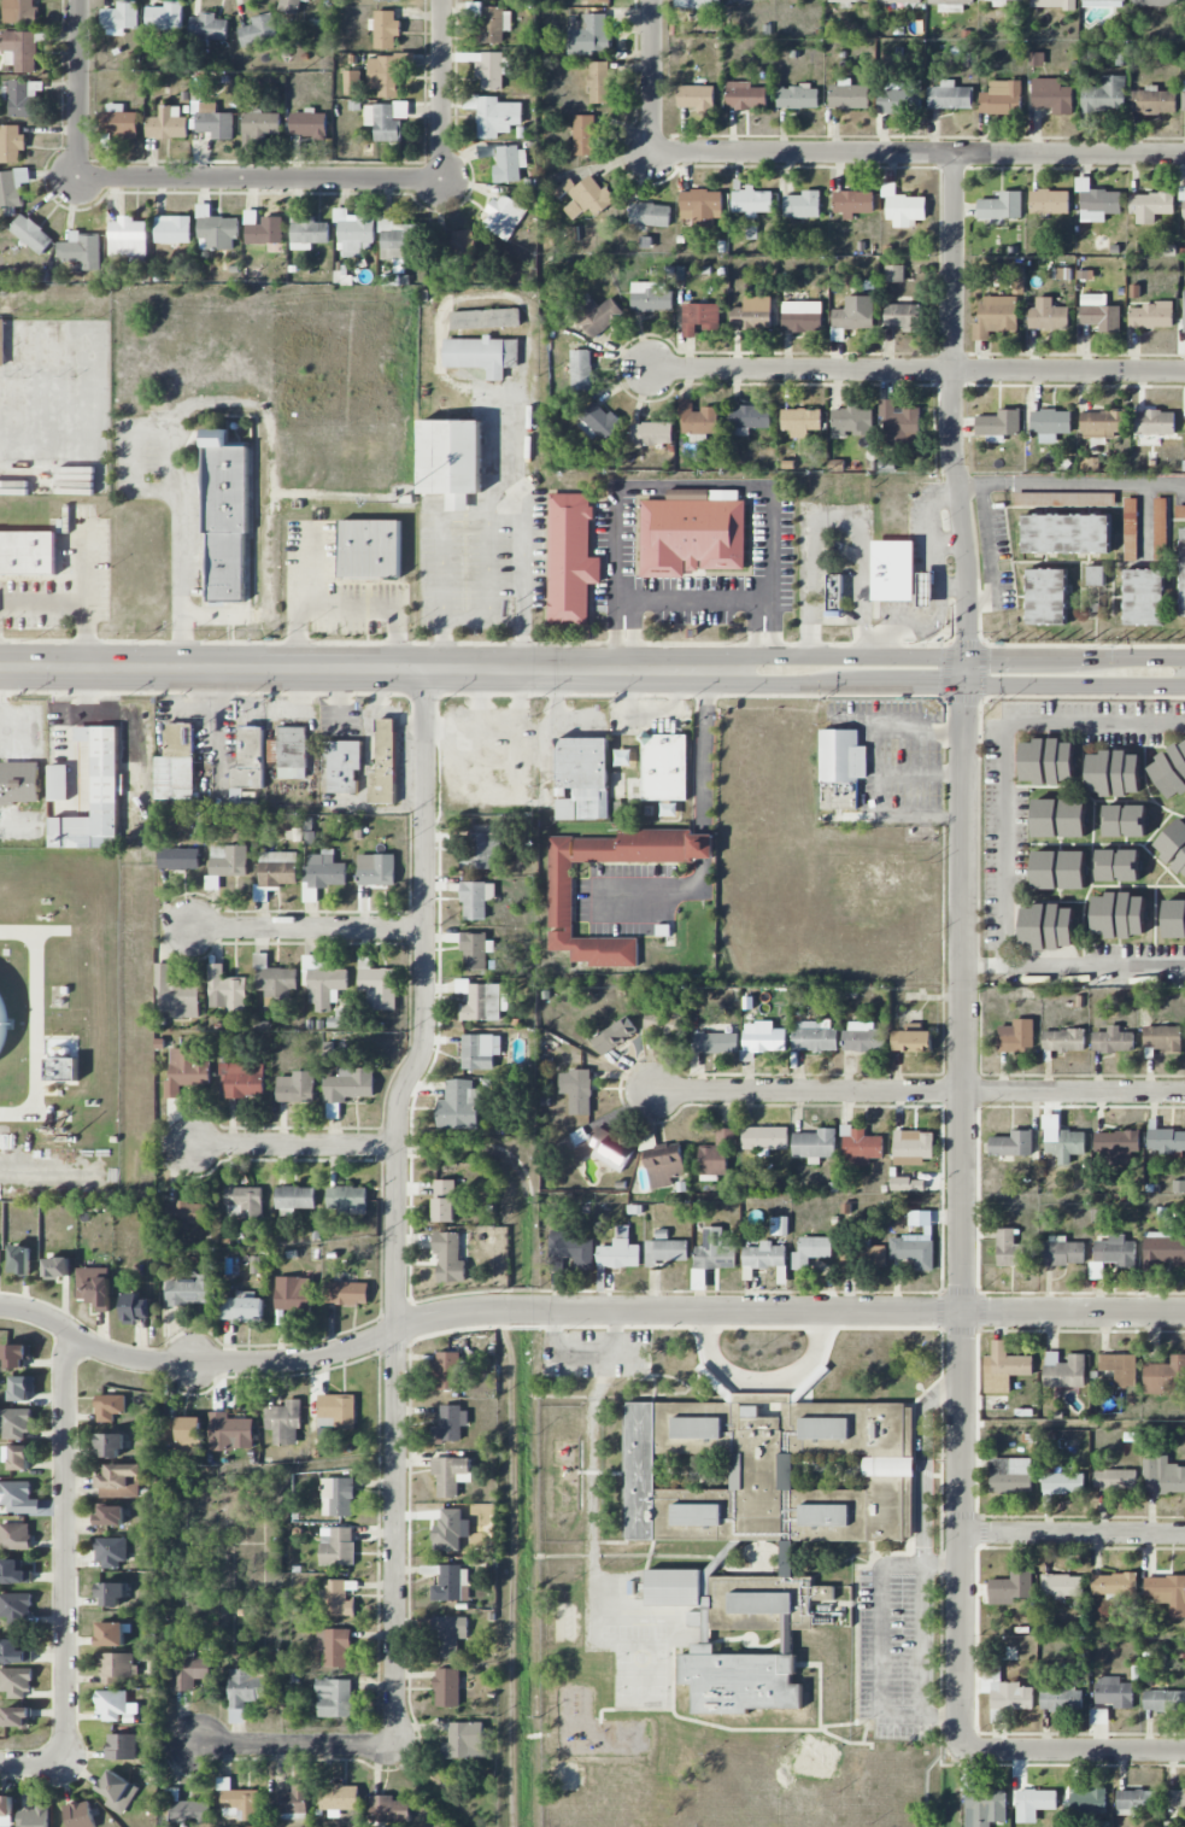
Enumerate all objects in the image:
building: (388, 0)
building: (762, 0)
building: (847, 0)
building: (1022, 0)
building: (1184, 0)
building: (599, 1)
building: (898, 1)
building: (951, 2)
building: (998, 2)
building: (1102, 2)
building: (1155, 2)
building: (697, 4)
building: (1052, 4)
building: (289, 6)
building: (20, 12)
building: (165, 16)
building: (119, 18)
building: (494, 24)
building: (209, 27)
building: (385, 29)
building: (258, 30)
building: (589, 35)
building: (22, 49)
building: (1037, 59)
building: (493, 70)
building: (387, 72)
road: (651, 76)
building: (352, 82)
building: (599, 82)
road: (76, 87)
road: (444, 89)
building: (1105, 94)
building: (847, 95)
building: (1052, 95)
building: (1184, 95)
building: (696, 96)
building: (746, 96)
building: (797, 96)
building: (950, 96)
building: (24, 98)
building: (1002, 98)
building: (892, 99)
building: (1152, 100)
building: (497, 116)
building: (386, 119)
building: (118, 121)
building: (213, 121)
building: (166, 124)
building: (307, 124)
building: (260, 125)
building: (583, 135)
building: (11, 144)
road: (916, 154)
building: (510, 164)
road: (262, 178)
building: (12, 188)
building: (583, 197)
building: (1183, 199)
building: (752, 201)
building: (1049, 201)
building: (1097, 201)
building: (853, 203)
building: (702, 205)
building: (802, 205)
building: (903, 206)
building: (1002, 206)
building: (1150, 206)
building: (650, 215)
building: (504, 216)
building: (263, 228)
building: (172, 229)
building: (353, 232)
building: (309, 233)
building: (31, 234)
building: (128, 239)
building: (398, 240)
building: (457, 244)
building: (81, 251)
building: (894, 273)
building: (651, 297)
building: (1099, 312)
building: (1184, 312)
building: (752, 314)
building: (855, 314)
building: (597, 315)
building: (1048, 315)
building: (802, 316)
building: (902, 316)
building: (996, 316)
building: (1151, 316)
building: (699, 317)
building: (485, 318)
building: (27, 342)
building: (55, 342)
building: (2, 344)
building: (481, 355)
building: (580, 369)
road: (916, 370)
building: (16, 400)
road: (234, 400)
building: (0, 402)
building: (751, 416)
building: (697, 418)
building: (599, 420)
building: (800, 421)
building: (851, 421)
building: (1155, 422)
building: (899, 423)
building: (999, 423)
building: (1050, 423)
building: (1102, 423)
building: (651, 433)
building: (451, 459)
road: (684, 484)
road: (1085, 486)
road: (970, 487)
building: (1064, 498)
building: (1180, 511)
building: (225, 519)
road: (839, 522)
road: (1144, 525)
building: (1160, 528)
road: (521, 529)
building: (1131, 529)
building: (692, 531)
building: (1067, 533)
road: (436, 549)
building: (369, 550)
road: (937, 551)
building: (28, 552)
road: (991, 554)
building: (570, 558)
building: (893, 569)
building: (1183, 572)
building: (1095, 575)
building: (926, 588)
building: (834, 595)
building: (1048, 596)
building: (1145, 597)
road: (697, 602)
road: (342, 605)
road: (926, 616)
traffic signals: (967, 634)
road: (809, 640)
road: (866, 643)
road: (964, 657)
traffic signals: (990, 657)
road: (374, 668)
traffic signals: (933, 684)
road: (964, 684)
traffic signals: (967, 707)
road: (77, 710)
road: (706, 746)
building: (288, 751)
road: (1002, 751)
building: (843, 755)
building: (622, 757)
building: (385, 760)
building: (1046, 760)
building: (247, 761)
building: (176, 762)
building: (345, 766)
building: (665, 767)
building: (1169, 769)
building: (1113, 772)
building: (582, 778)
building: (19, 781)
building: (58, 781)
building: (94, 795)
building: (1058, 816)
building: (1124, 820)
road: (704, 845)
building: (1173, 845)
building: (481, 849)
building: (178, 859)
building: (225, 863)
building: (1117, 863)
building: (277, 868)
building: (1060, 868)
building: (375, 869)
building: (324, 871)
road: (653, 895)
building: (561, 898)
building: (476, 900)
building: (1119, 914)
building: (1174, 918)
building: (1048, 925)
road: (307, 929)
building: (475, 950)
road: (963, 950)
road: (973, 965)
road: (996, 965)
road: (1097, 965)
building: (323, 982)
building: (276, 983)
building: (379, 988)
building: (225, 990)
building: (176, 996)
building: (481, 1001)
building: (1, 1018)
building: (664, 1020)
building: (614, 1035)
building: (814, 1036)
building: (1016, 1036)
building: (863, 1037)
building: (762, 1038)
building: (1162, 1038)
building: (1063, 1040)
building: (1113, 1040)
building: (911, 1041)
building: (716, 1042)
building: (480, 1050)
building: (187, 1070)
building: (61, 1071)
building: (241, 1079)
building: (297, 1088)
building: (347, 1088)
building: (580, 1091)
road: (919, 1093)
building: (459, 1106)
building: (765, 1138)
building: (1166, 1141)
road: (291, 1144)
building: (815, 1144)
building: (1011, 1144)
building: (1064, 1144)
building: (1116, 1146)
building: (860, 1147)
building: (913, 1147)
building: (606, 1148)
building: (716, 1155)
building: (664, 1165)
building: (908, 1184)
building: (1178, 1187)
building: (295, 1197)
building: (347, 1199)
building: (245, 1200)
building: (445, 1201)
road: (397, 1204)
building: (186, 1213)
building: (573, 1247)
building: (665, 1249)
building: (1011, 1249)
building: (620, 1251)
building: (714, 1251)
building: (810, 1251)
building: (1163, 1251)
building: (911, 1252)
building: (1064, 1252)
building: (1113, 1254)
building: (870, 1257)
building: (448, 1258)
building: (762, 1258)
building: (19, 1259)
building: (557, 1264)
building: (57, 1267)
building: (94, 1287)
building: (192, 1289)
building: (293, 1293)
building: (346, 1293)
building: (135, 1308)
building: (242, 1308)
road: (582, 1311)
building: (16, 1355)
building: (1003, 1368)
building: (1120, 1369)
building: (448, 1370)
building: (1064, 1370)
building: (1165, 1375)
road: (761, 1380)
building: (22, 1388)
building: (108, 1406)
building: (336, 1410)
building: (14, 1422)
building: (284, 1422)
building: (451, 1424)
building: (698, 1428)
building: (826, 1428)
building: (229, 1431)
building: (890, 1440)
building: (110, 1445)
building: (19, 1458)
road: (923, 1460)
building: (640, 1471)
building: (737, 1471)
building: (786, 1471)
building: (451, 1475)
building: (1010, 1475)
building: (1162, 1476)
building: (1116, 1480)
building: (119, 1481)
building: (1063, 1483)
building: (14, 1497)
building: (338, 1497)
building: (111, 1515)
building: (697, 1515)
building: (826, 1515)
road: (1073, 1530)
building: (448, 1532)
building: (14, 1536)
building: (338, 1546)
road: (66, 1551)
building: (111, 1552)
building: (787, 1558)
building: (13, 1573)
building: (452, 1583)
building: (1114, 1583)
building: (1062, 1586)
building: (674, 1587)
building: (1010, 1588)
building: (1167, 1592)
building: (823, 1593)
building: (111, 1594)
building: (338, 1599)
building: (761, 1603)
building: (16, 1606)
building: (110, 1634)
building: (787, 1634)
building: (450, 1635)
road: (922, 1639)
road: (885, 1640)
building: (334, 1646)
building: (13, 1652)
building: (116, 1667)
building: (190, 1671)
building: (739, 1681)
building: (14, 1682)
building: (446, 1687)
building: (245, 1691)
building: (1114, 1692)
building: (1011, 1696)
building: (334, 1698)
building: (1061, 1698)
building: (1165, 1700)
building: (112, 1704)
building: (1099, 1716)
building: (17, 1717)
building: (464, 1740)
building: (122, 1746)
road: (293, 1746)
road: (1073, 1747)
road: (34, 1767)
road: (926, 1778)
building: (118, 1792)
building: (1085, 1798)
building: (1175, 1798)
building: (239, 1799)
building: (339, 1799)
building: (1034, 1802)
building: (1136, 1802)
building: (293, 1803)
building: (985, 1808)
building: (186, 1809)
building: (391, 1810)
building: (6, 1811)
building: (80, 1814)
building: (35, 1816)

